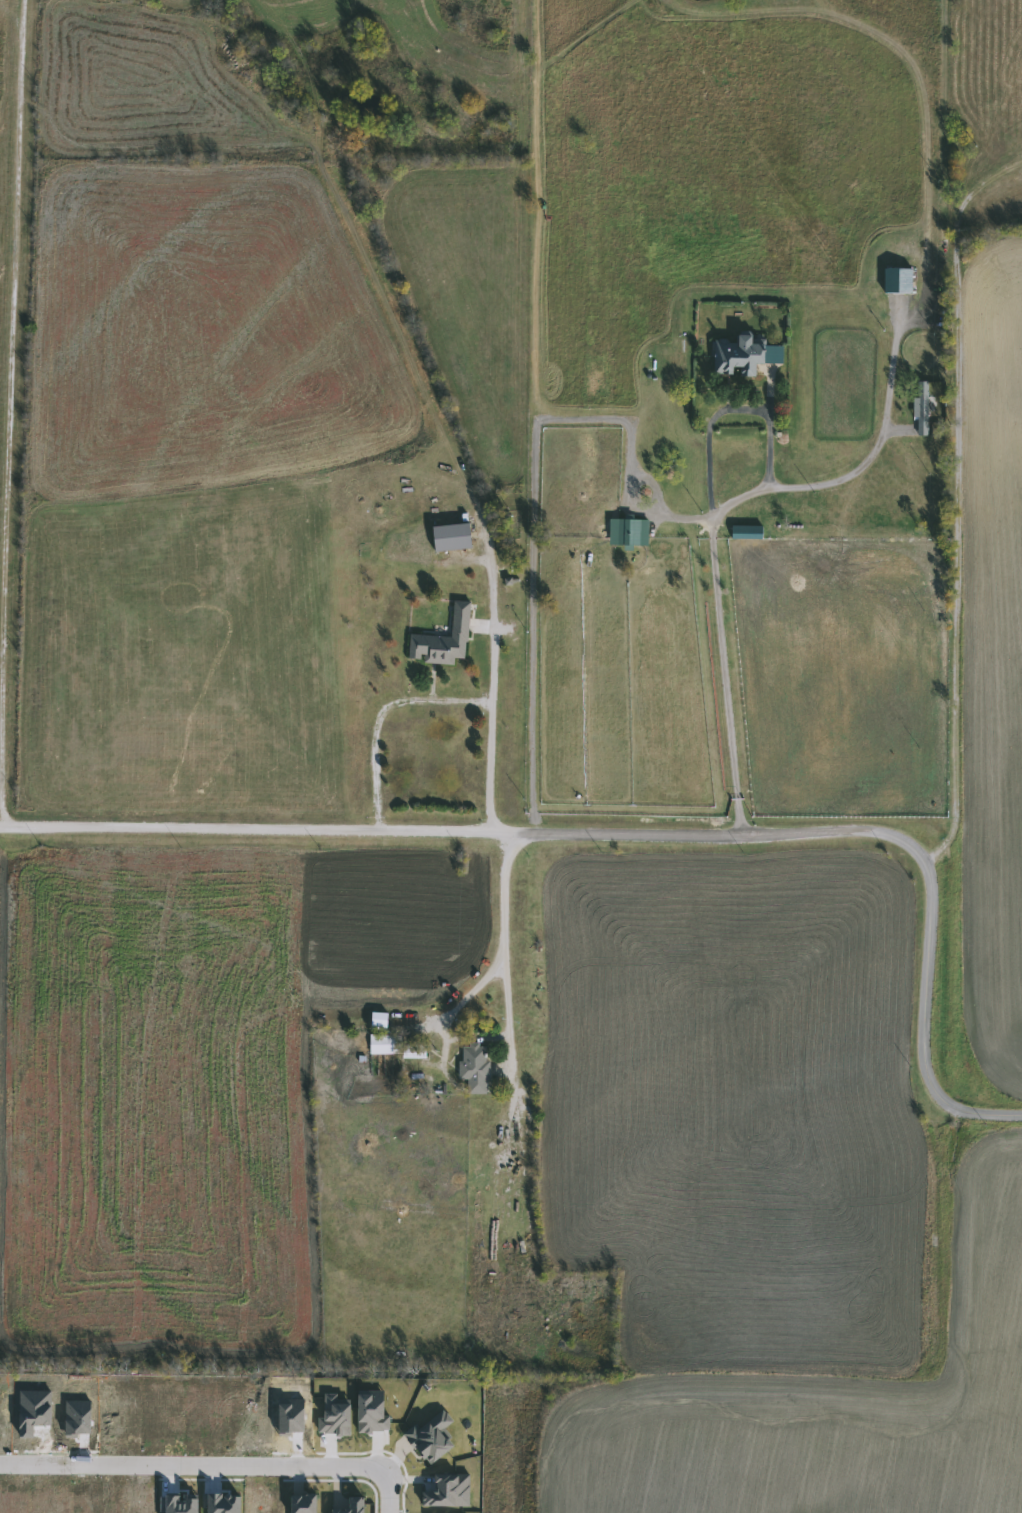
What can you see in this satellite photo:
road: (7, 251)
building: (900, 280)
building: (744, 355)
building: (921, 406)
road: (724, 411)
road: (537, 509)
road: (956, 515)
road: (708, 518)
building: (749, 533)
building: (453, 538)
road: (496, 630)
building: (446, 640)
road: (441, 699)
road: (627, 834)
road: (504, 938)
building: (393, 1046)
building: (475, 1068)
road: (1007, 1100)
crop: (805, 1410)
road: (191, 1465)
road: (386, 1495)

